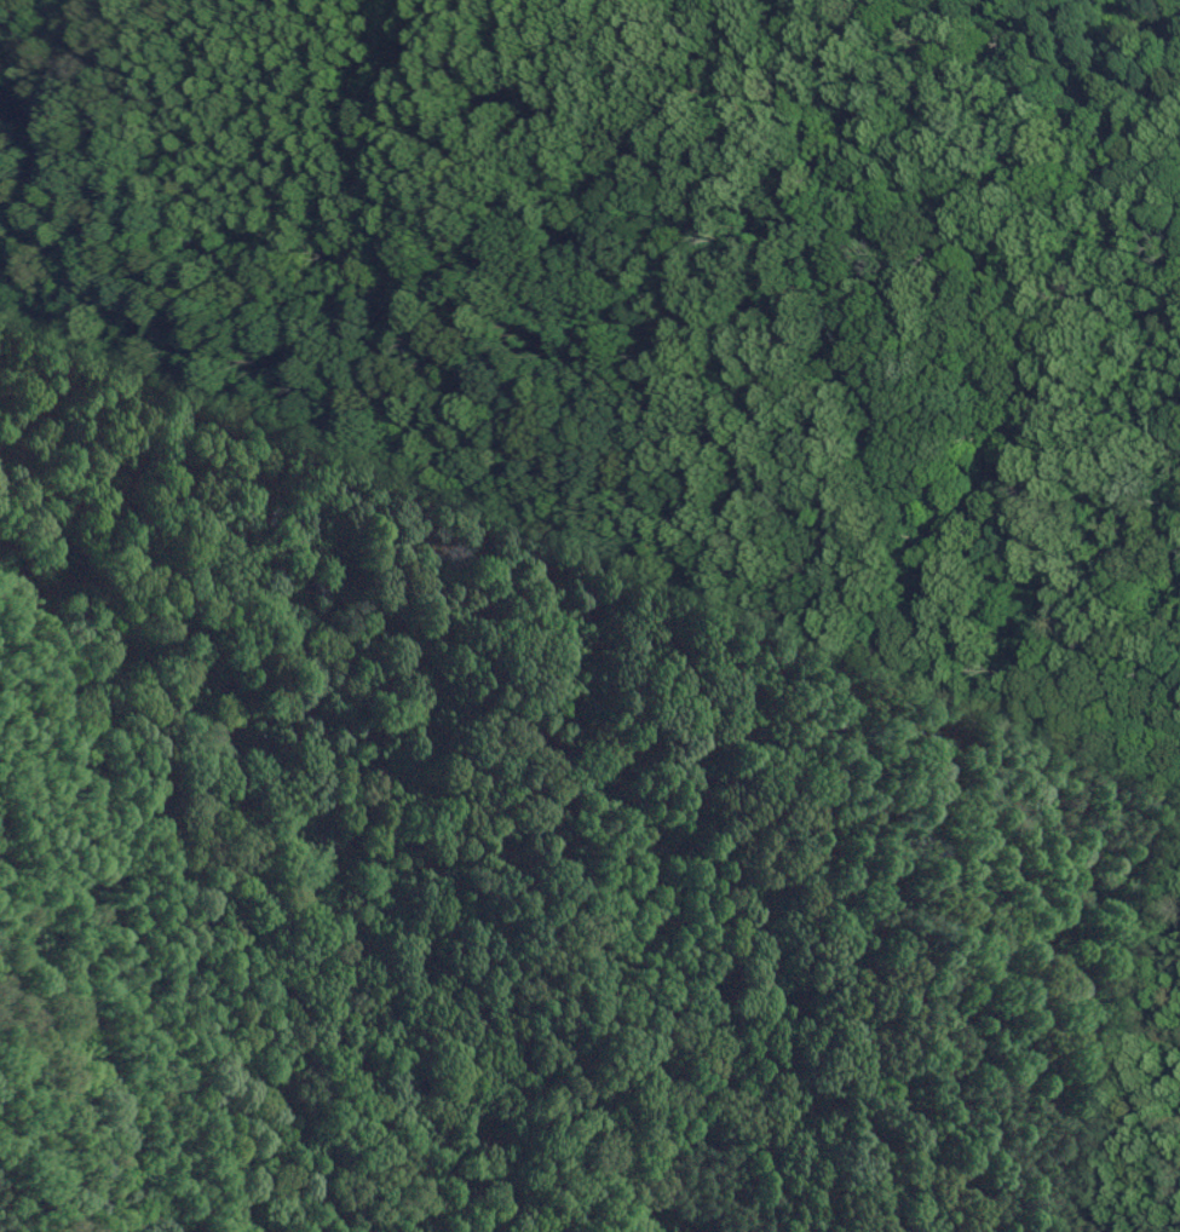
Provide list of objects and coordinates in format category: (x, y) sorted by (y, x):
road: (13, 480)

